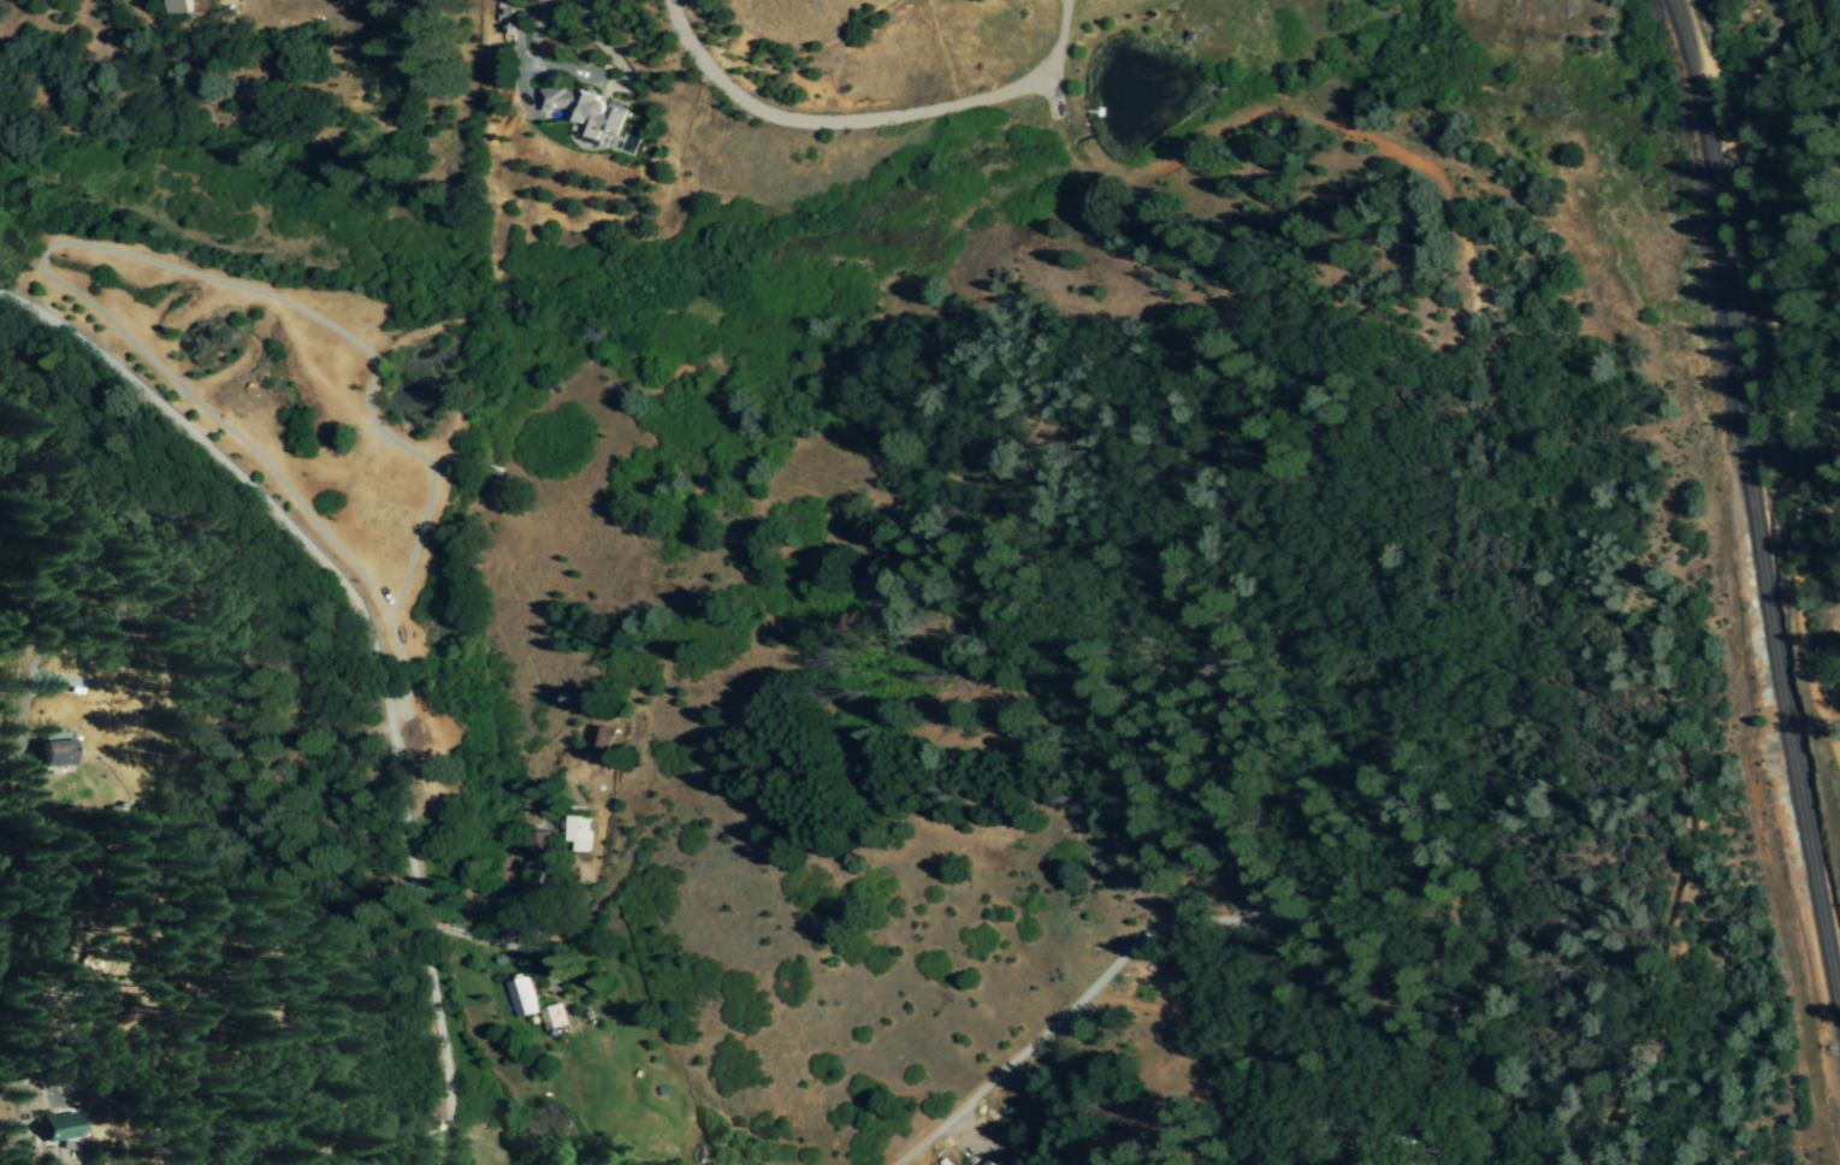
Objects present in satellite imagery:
building: (179, 7)
road: (529, 20)
road: (582, 25)
building: (582, 112)
road: (853, 119)
railway: (1759, 505)
road: (367, 650)
building: (576, 834)
building: (539, 850)
road: (1223, 918)
road: (522, 940)
building: (521, 998)
building: (552, 1019)
building: (54, 1128)
building: (993, 1161)

